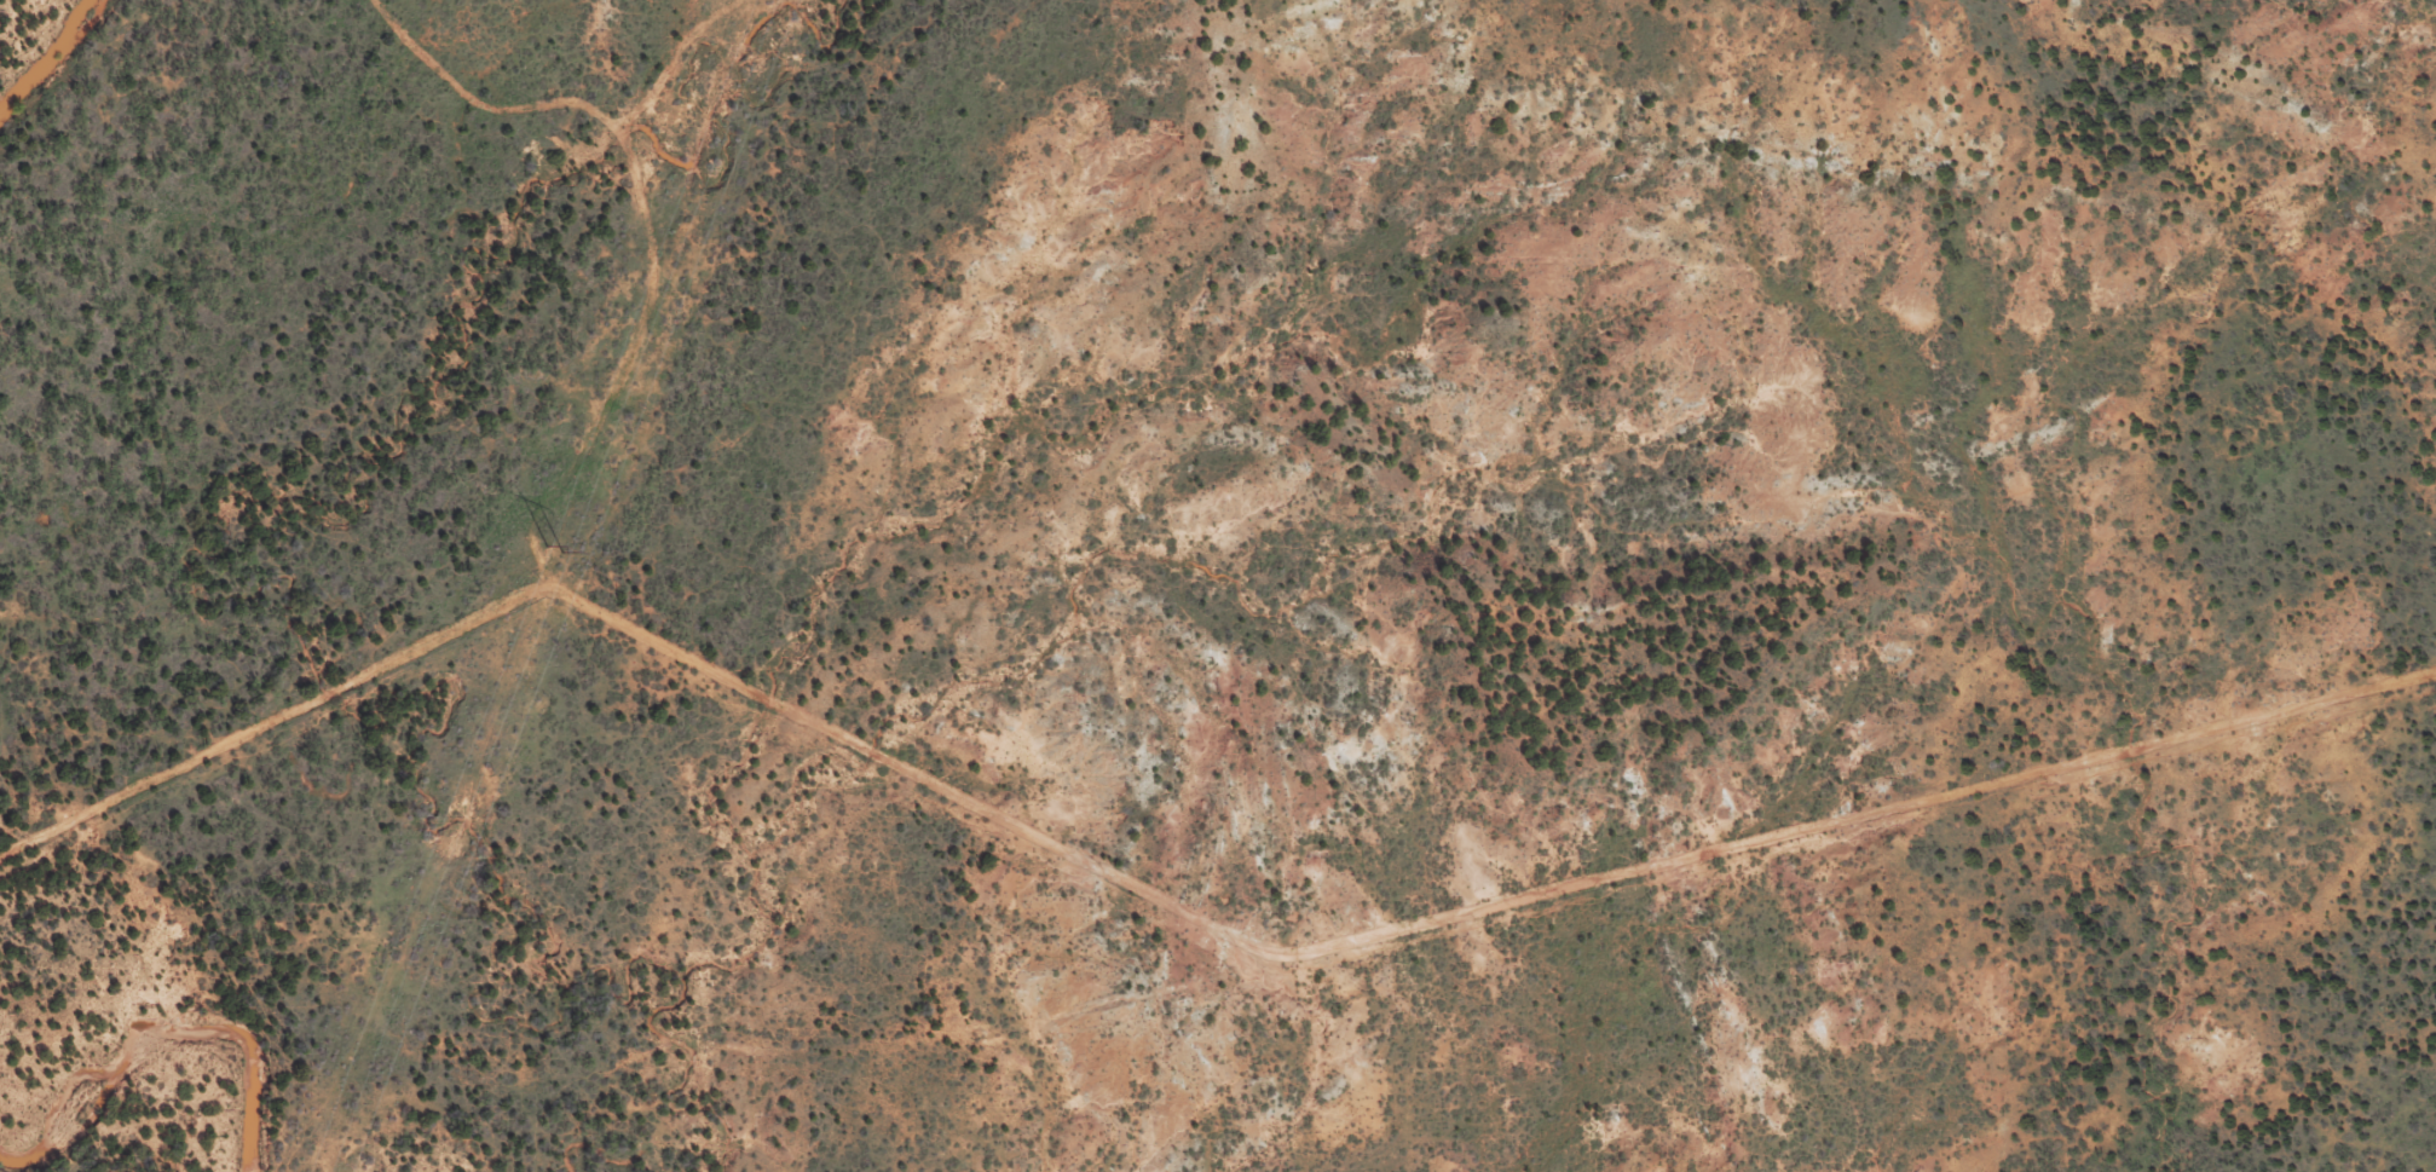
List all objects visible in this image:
power tower: (552, 549)

